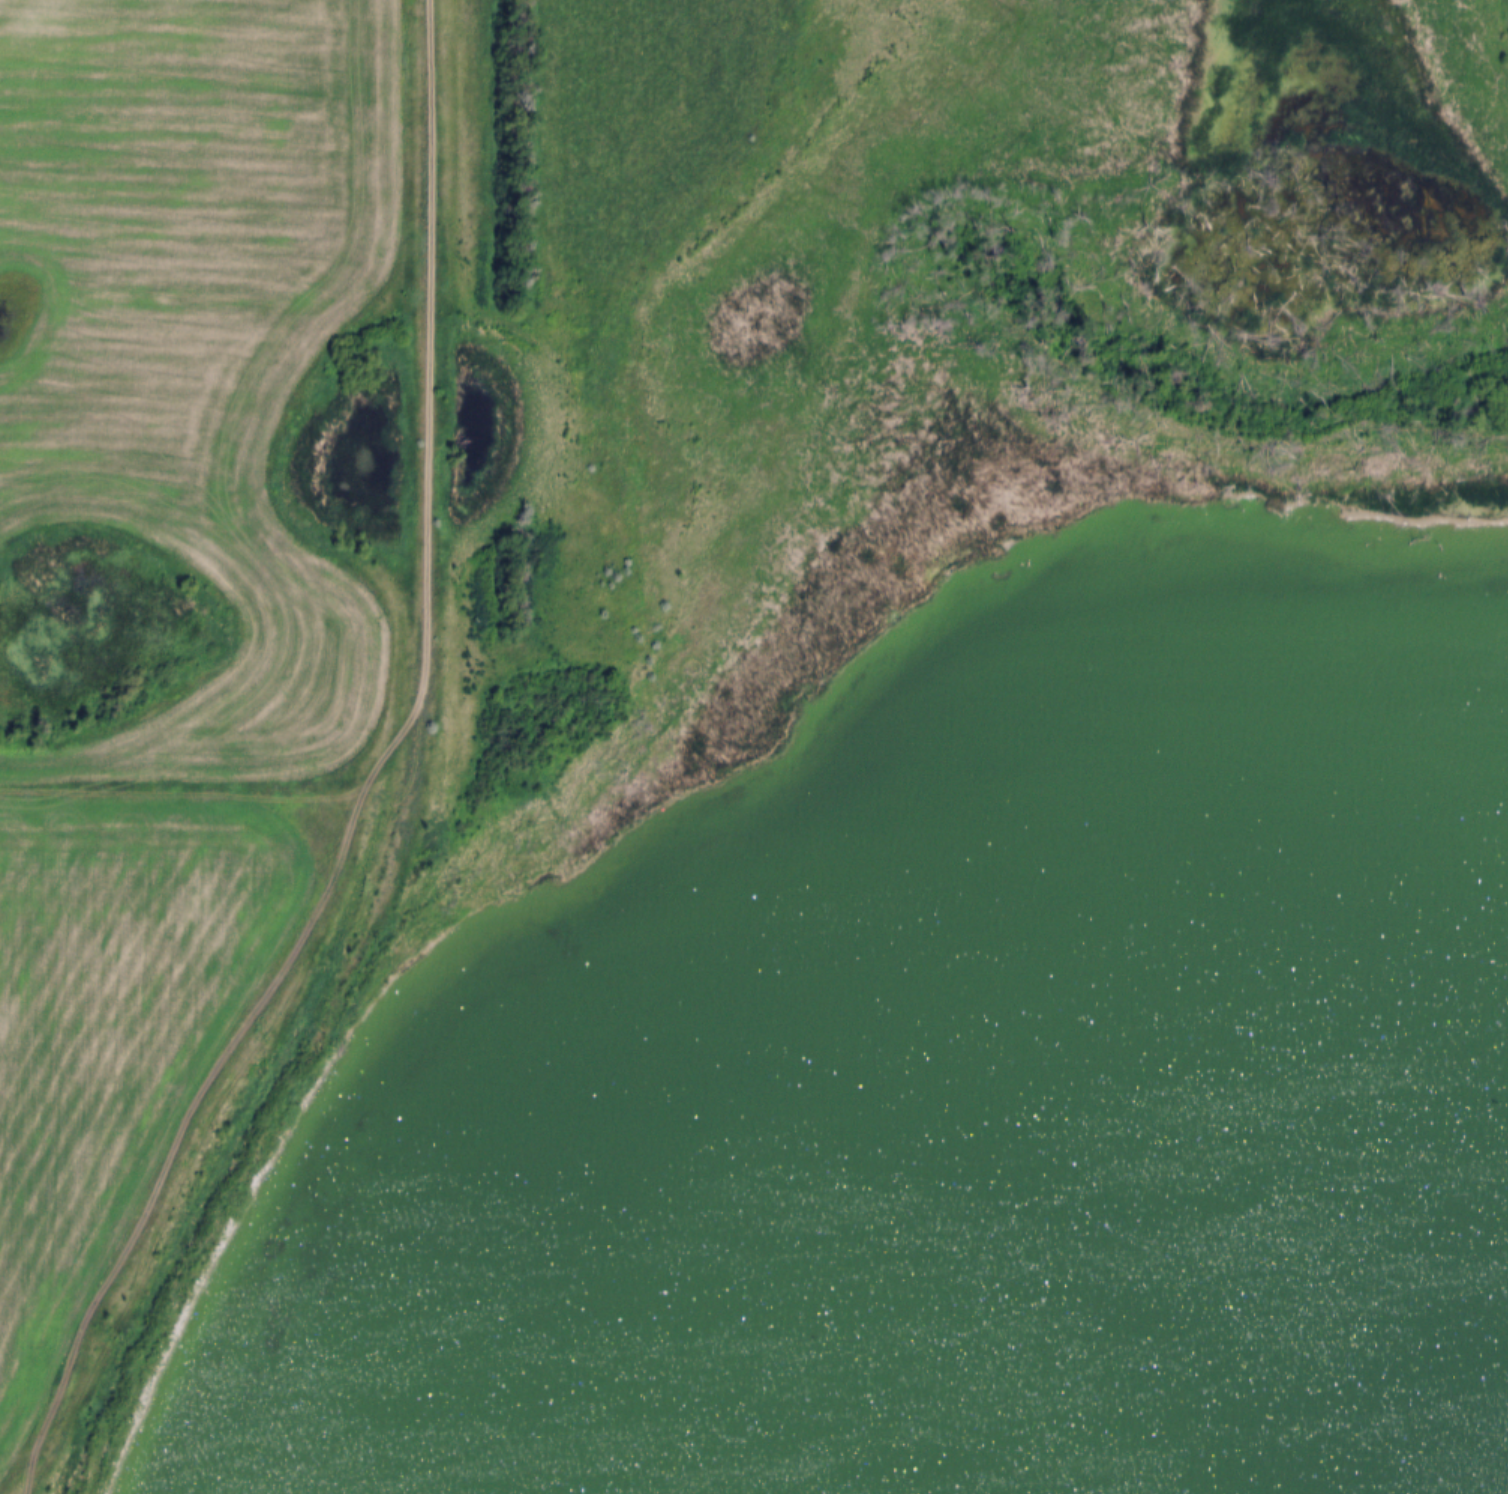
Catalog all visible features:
road: (411, 782)

